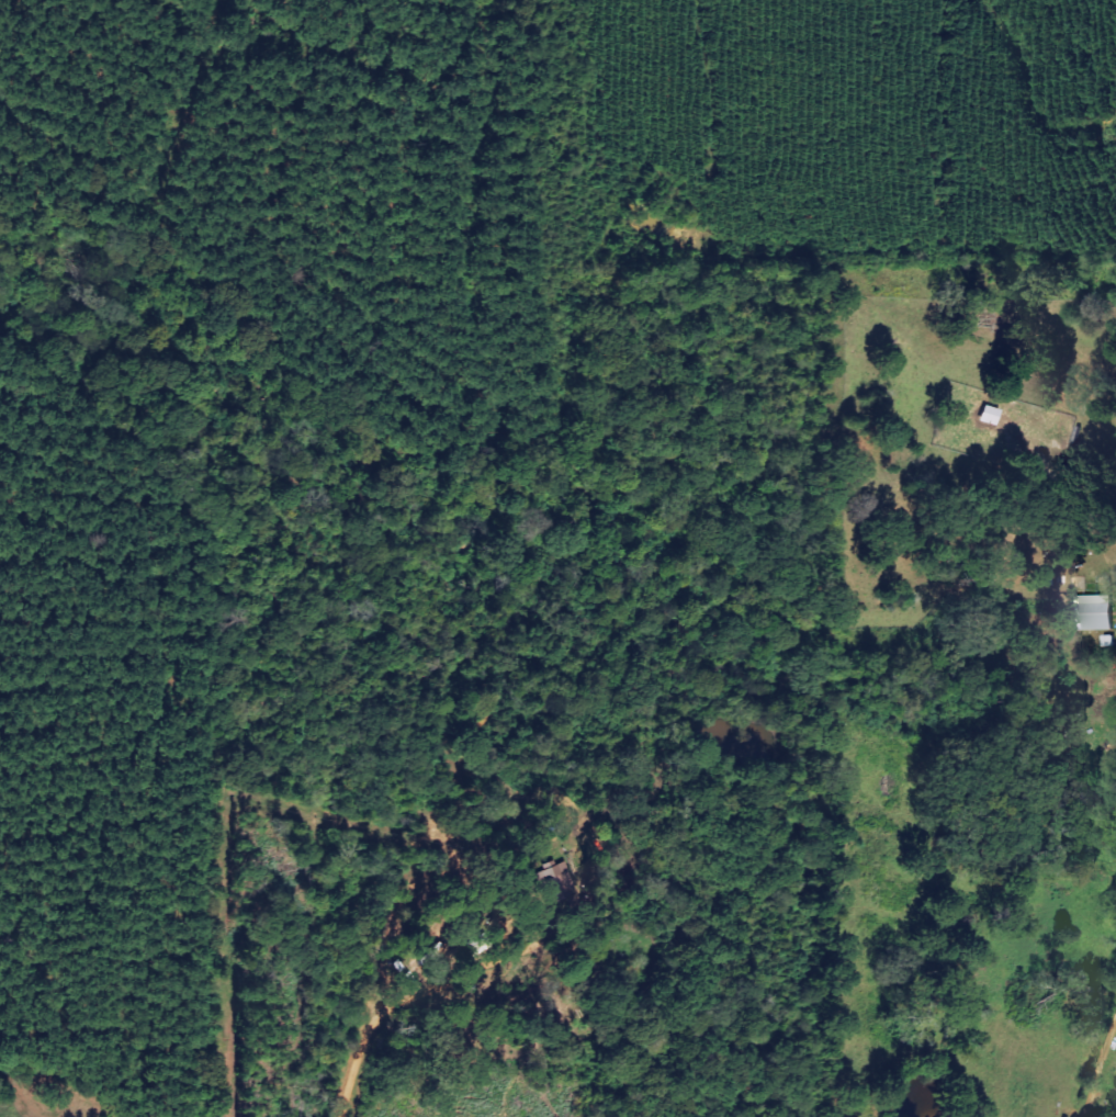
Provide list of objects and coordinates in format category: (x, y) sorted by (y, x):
building: (1091, 618)
road: (77, 891)

